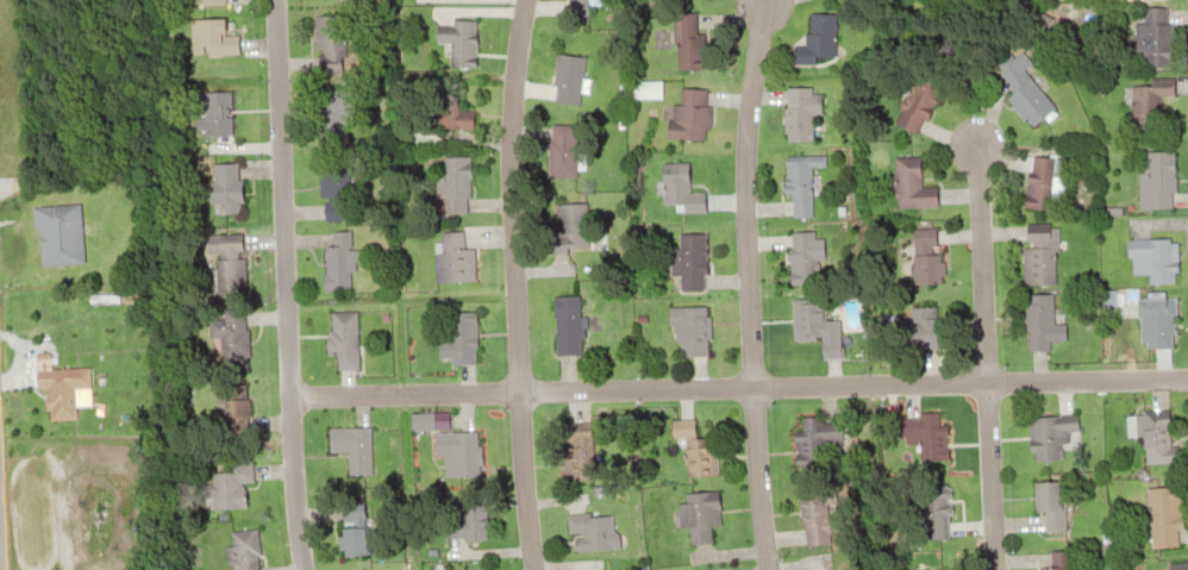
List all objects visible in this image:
building: (207, 0)
building: (580, 0)
building: (821, 35)
building: (206, 37)
building: (1156, 37)
building: (326, 42)
building: (458, 43)
building: (684, 44)
building: (563, 79)
building: (644, 90)
building: (1023, 95)
building: (917, 104)
building: (1144, 108)
building: (689, 113)
building: (796, 113)
building: (213, 115)
building: (330, 115)
building: (451, 115)
building: (561, 152)
building: (1159, 178)
building: (676, 181)
building: (908, 182)
building: (1039, 182)
building: (452, 183)
building: (798, 184)
building: (221, 188)
building: (330, 190)
road: (742, 194)
building: (573, 224)
building: (54, 234)
building: (1036, 255)
building: (800, 257)
building: (1158, 258)
building: (451, 259)
building: (926, 259)
building: (688, 261)
building: (334, 262)
road: (977, 263)
building: (229, 265)
road: (281, 284)
road: (511, 284)
building: (807, 319)
building: (1156, 320)
building: (686, 321)
building: (1038, 321)
building: (564, 324)
building: (924, 328)
building: (230, 334)
building: (459, 337)
building: (340, 343)
road: (737, 388)
building: (56, 393)
building: (233, 411)
building: (927, 436)
building: (1043, 437)
building: (1155, 437)
building: (812, 440)
building: (354, 450)
building: (695, 452)
building: (464, 453)
building: (577, 456)
road: (984, 476)
road: (751, 478)
building: (226, 490)
building: (1051, 506)
building: (930, 507)
building: (693, 515)
building: (470, 518)
building: (1162, 518)
building: (813, 520)
building: (583, 532)
building: (350, 533)
building: (240, 551)
building: (1052, 560)
building: (927, 562)
building: (1178, 566)

